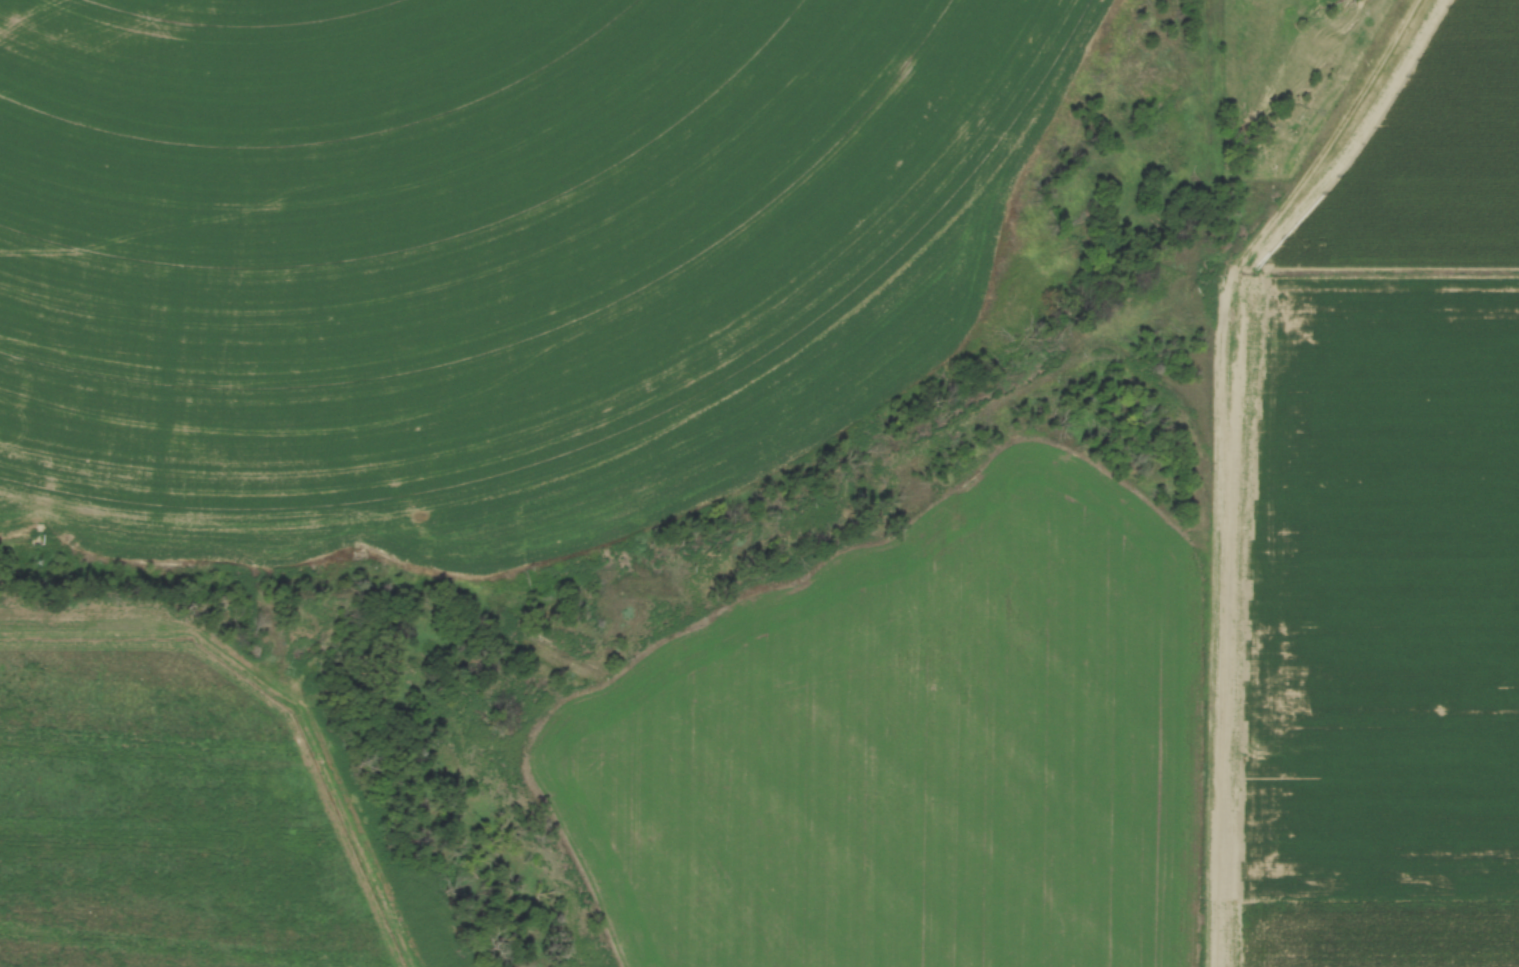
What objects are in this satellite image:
road: (1218, 454)

